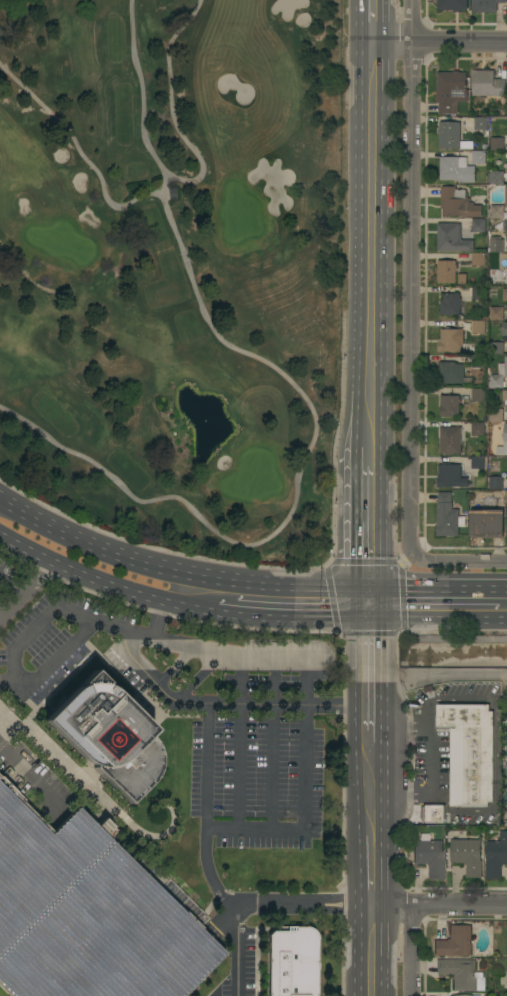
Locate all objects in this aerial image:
building: (453, 5)
building: (486, 5)
road: (372, 22)
road: (439, 43)
building: (488, 84)
road: (140, 90)
building: (451, 91)
road: (170, 107)
building: (480, 123)
building: (452, 136)
building: (497, 144)
road: (83, 157)
building: (479, 157)
building: (457, 169)
building: (496, 177)
building: (506, 198)
building: (458, 203)
building: (497, 212)
building: (479, 225)
building: (505, 225)
building: (506, 233)
building: (452, 238)
building: (496, 246)
road: (370, 247)
building: (478, 259)
park: (173, 268)
building: (446, 271)
road: (412, 277)
building: (462, 279)
building: (479, 295)
building: (505, 295)
building: (450, 304)
building: (497, 313)
building: (478, 327)
building: (504, 329)
building: (450, 340)
building: (497, 349)
building: (479, 361)
building: (452, 373)
building: (499, 377)
building: (478, 395)
building: (505, 400)
building: (450, 406)
building: (496, 415)
building: (478, 429)
building: (506, 435)
building: (450, 440)
building: (478, 462)
building: (449, 475)
building: (496, 483)
road: (294, 494)
building: (448, 516)
road: (367, 518)
building: (486, 522)
road: (457, 564)
road: (176, 569)
road: (104, 585)
traffic signals: (367, 587)
road: (433, 587)
road: (503, 587)
road: (27, 590)
road: (367, 603)
road: (226, 614)
road: (301, 619)
traffic signals: (367, 619)
road: (436, 619)
road: (21, 638)
road: (368, 652)
road: (436, 675)
road: (9, 678)
road: (226, 704)
parking lot: (190, 708)
road: (369, 714)
road: (398, 725)
building: (107, 736)
road: (498, 742)
road: (308, 754)
building: (468, 754)
building: (506, 770)
road: (32, 781)
road: (369, 790)
road: (407, 797)
building: (430, 814)
building: (468, 856)
building: (430, 857)
building: (496, 857)
road: (370, 871)
road: (120, 876)
road: (88, 891)
road: (257, 905)
road: (438, 906)
road: (56, 912)
road: (1, 913)
building: (90, 913)
parking lot: (90, 913)
road: (237, 917)
road: (222, 921)
building: (455, 942)
road: (370, 951)
road: (407, 951)
road: (236, 962)
building: (292, 962)
parking lot: (238, 969)
building: (460, 974)
road: (69, 977)
road: (16, 979)
road: (81, 994)
building: (461, 995)

